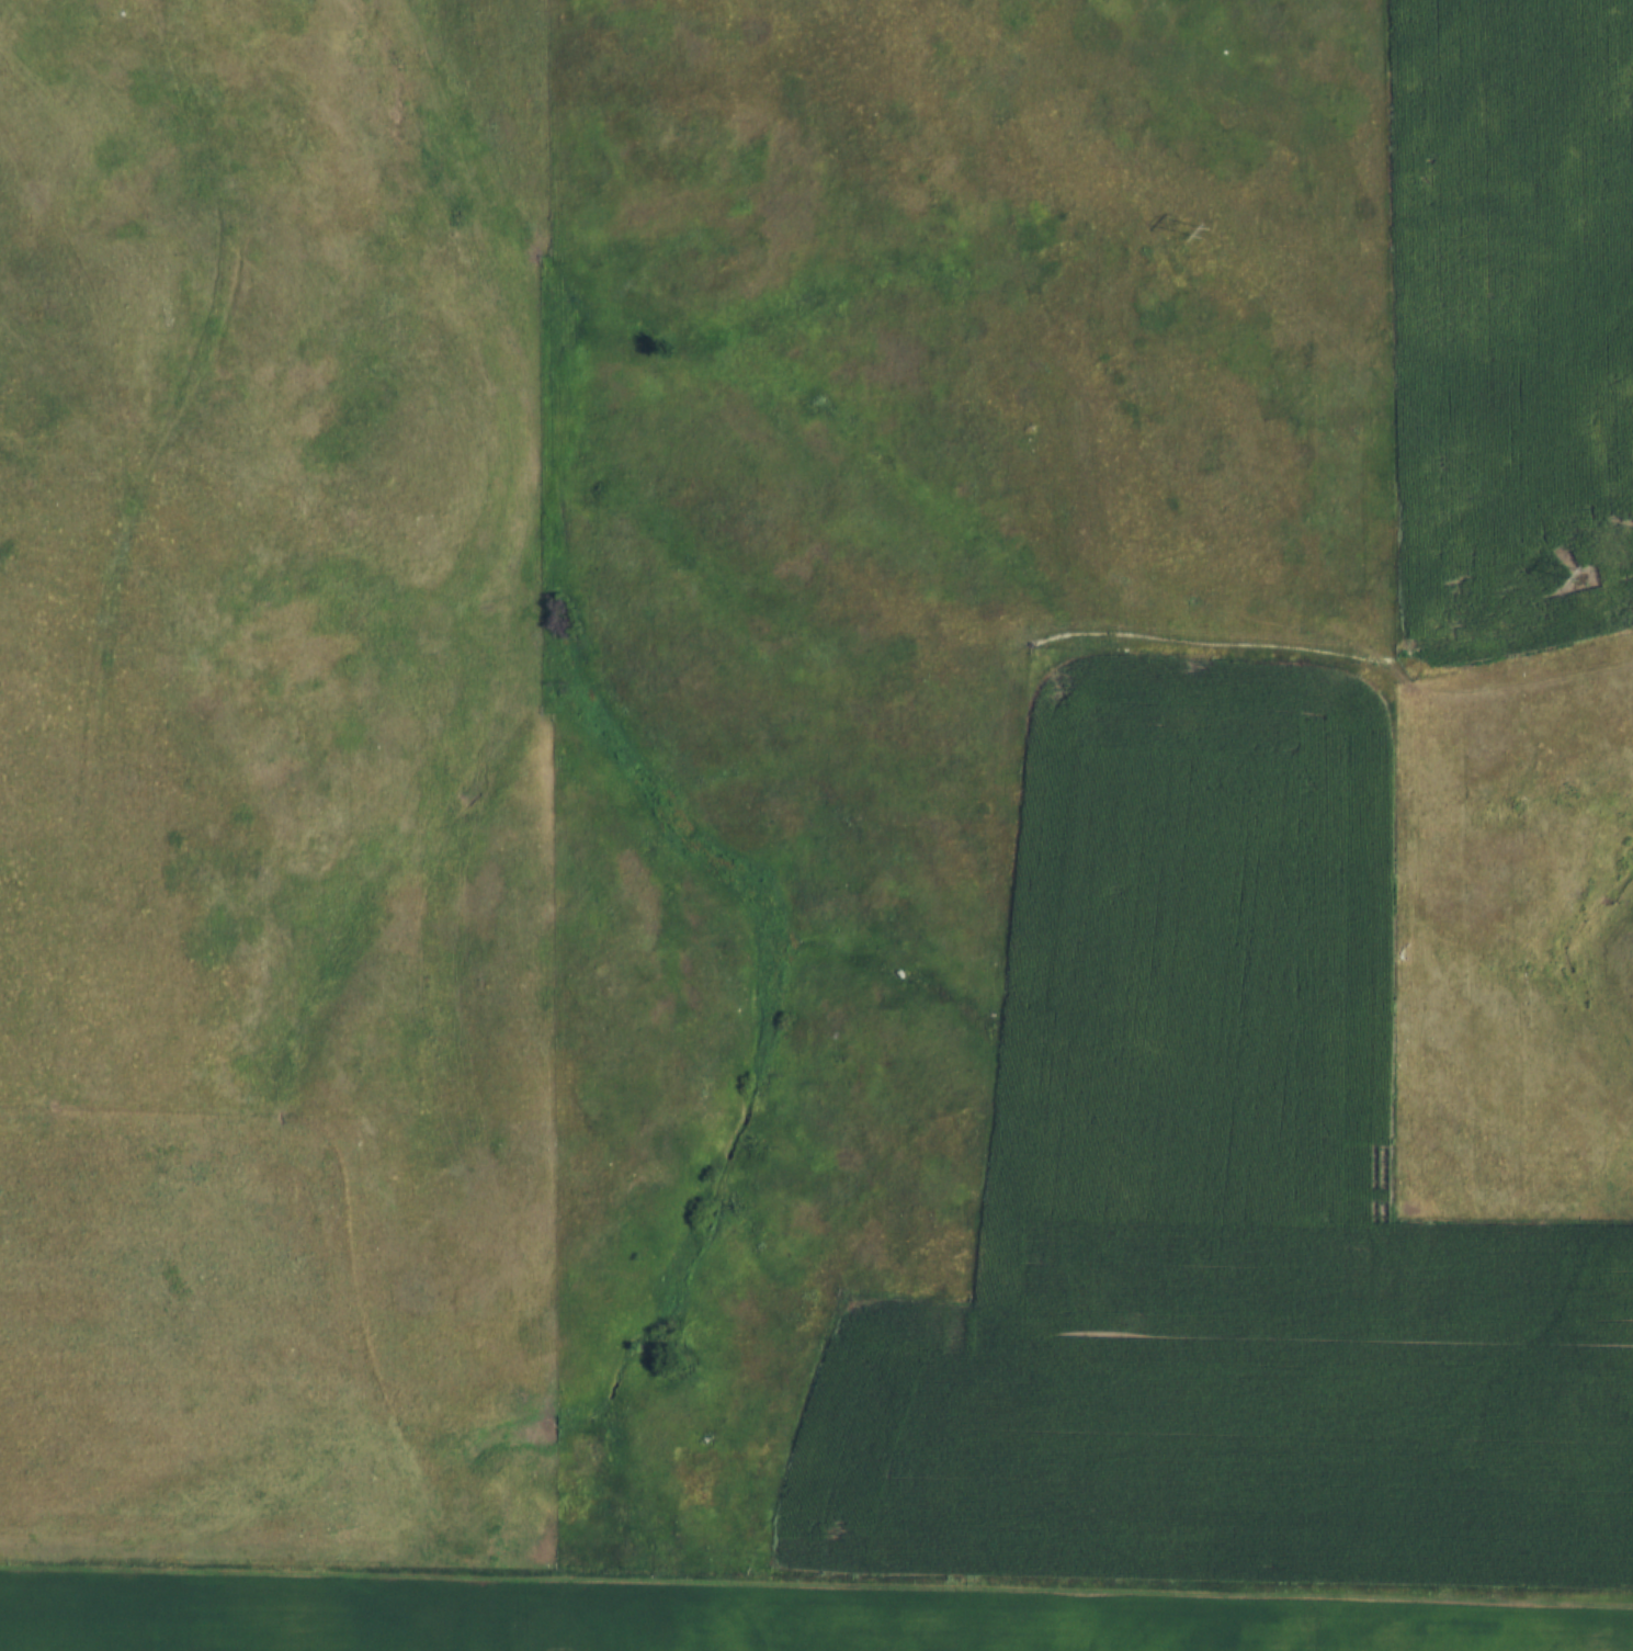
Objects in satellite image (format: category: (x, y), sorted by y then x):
power tower: (1202, 236)
power tower: (1580, 580)

